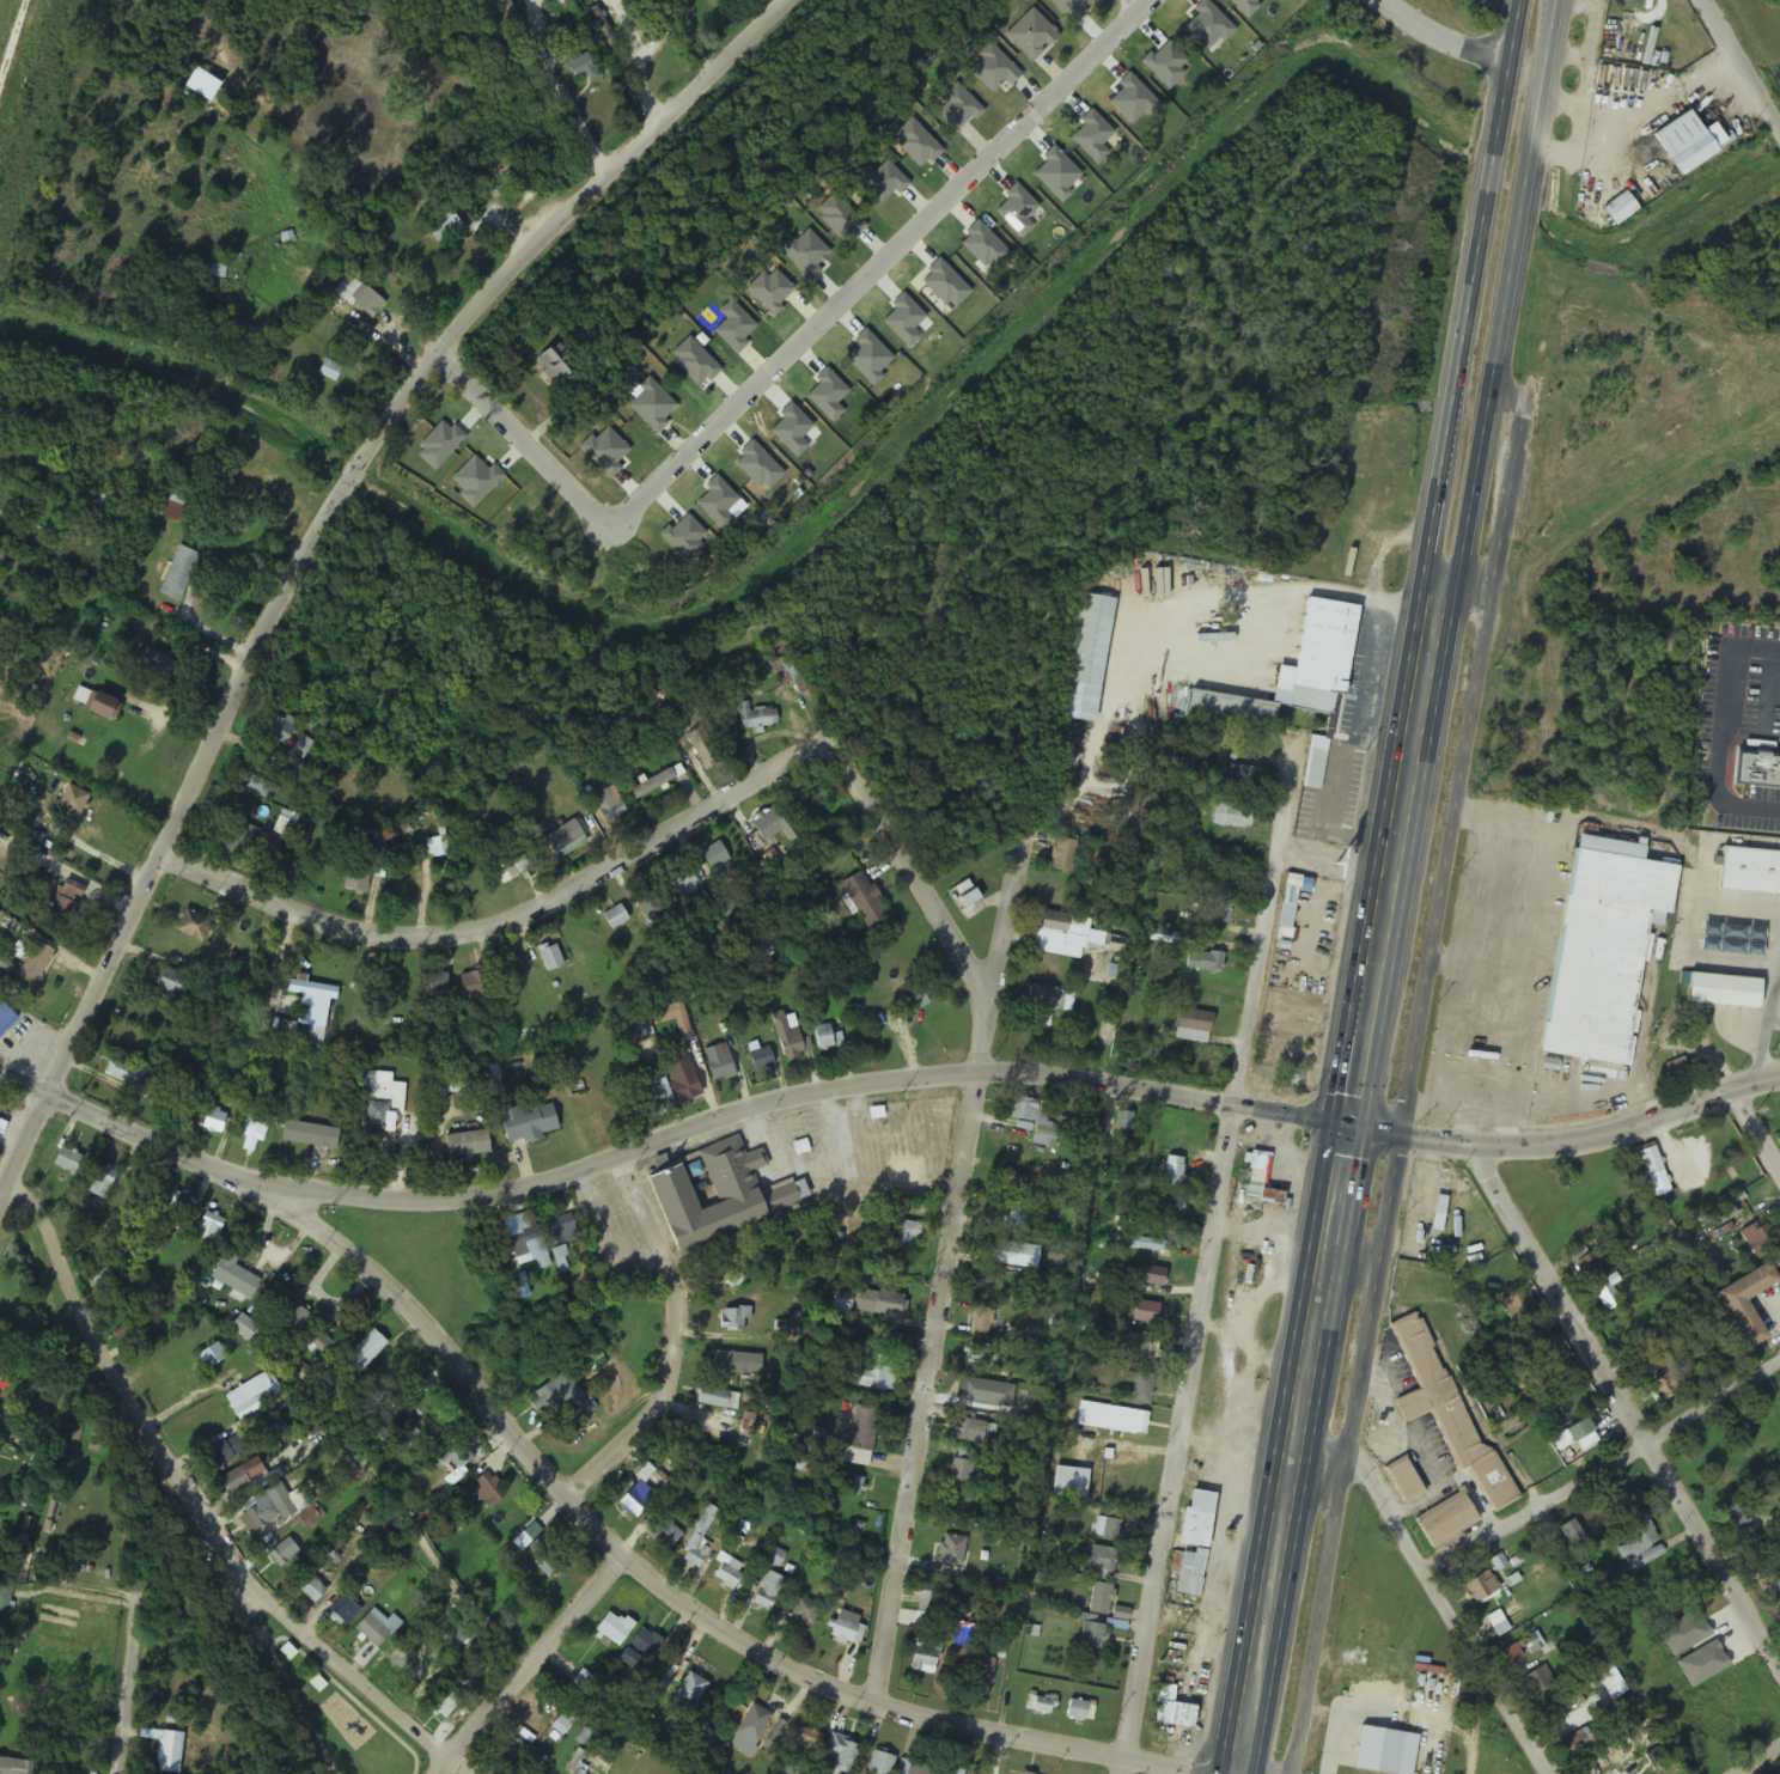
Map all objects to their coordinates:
building: (507, 11)
building: (601, 26)
railway: (11, 33)
road: (1469, 44)
road: (1742, 63)
building: (581, 67)
building: (1687, 144)
building: (517, 184)
building: (1617, 211)
building: (440, 226)
power tower: (1400, 250)
building: (365, 303)
road: (1469, 310)
road: (1506, 313)
road: (801, 355)
building: (555, 361)
building: (329, 371)
building: (1610, 440)
building: (102, 504)
building: (175, 504)
road: (312, 531)
building: (181, 573)
road: (1463, 585)
building: (1086, 659)
building: (160, 664)
building: (1297, 671)
building: (109, 706)
building: (755, 717)
power tower: (1317, 729)
building: (285, 733)
building: (701, 749)
building: (1313, 768)
building: (1174, 772)
building: (1242, 778)
building: (1764, 778)
building: (652, 785)
building: (74, 801)
building: (608, 807)
building: (1230, 817)
building: (285, 823)
building: (772, 825)
building: (232, 836)
building: (561, 839)
building: (1061, 856)
building: (713, 858)
road: (907, 865)
building: (501, 870)
building: (1749, 873)
building: (359, 877)
building: (678, 883)
building: (862, 901)
building: (67, 903)
building: (721, 907)
building: (1214, 913)
building: (1285, 915)
building: (614, 919)
road: (508, 921)
building: (194, 926)
building: (1071, 935)
building: (1602, 956)
building: (549, 959)
building: (36, 963)
building: (1203, 963)
building: (170, 983)
building: (477, 986)
building: (310, 989)
building: (922, 994)
building: (227, 1001)
building: (1047, 1004)
building: (6, 1018)
building: (670, 1018)
building: (1191, 1028)
building: (787, 1037)
building: (821, 1038)
building: (758, 1060)
building: (719, 1068)
building: (126, 1072)
building: (681, 1081)
road: (1409, 1083)
building: (446, 1084)
road: (804, 1089)
building: (651, 1097)
building: (384, 1102)
building: (214, 1121)
building: (531, 1122)
building: (1035, 1122)
building: (1122, 1122)
road: (136, 1129)
building: (255, 1129)
traffic signals: (1346, 1130)
road: (1756, 1130)
building: (311, 1134)
building: (420, 1144)
building: (469, 1145)
road: (1567, 1145)
building: (69, 1160)
building: (1653, 1172)
power tower: (1240, 1177)
building: (1258, 1182)
building: (1011, 1183)
building: (102, 1184)
building: (719, 1196)
road: (1334, 1199)
building: (182, 1205)
building: (1165, 1207)
building: (1438, 1215)
building: (1014, 1220)
building: (209, 1226)
building: (562, 1232)
building: (906, 1239)
building: (528, 1242)
building: (1150, 1246)
building: (1008, 1255)
road: (1353, 1257)
building: (1591, 1263)
road: (943, 1270)
building: (720, 1273)
building: (98, 1274)
building: (236, 1276)
building: (1607, 1293)
road: (1196, 1301)
building: (1745, 1305)
building: (886, 1306)
building: (1513, 1309)
building: (295, 1321)
building: (732, 1321)
building: (981, 1324)
building: (245, 1328)
building: (317, 1342)
road: (673, 1342)
building: (1144, 1348)
building: (214, 1357)
building: (976, 1359)
building: (734, 1365)
building: (868, 1378)
building: (1663, 1380)
building: (1139, 1390)
building: (254, 1396)
building: (557, 1396)
building: (711, 1400)
building: (1023, 1402)
road: (1623, 1408)
building: (7, 1415)
building: (1111, 1420)
building: (384, 1428)
building: (438, 1429)
building: (969, 1432)
building: (1574, 1437)
building: (858, 1439)
building: (1455, 1443)
building: (225, 1451)
building: (457, 1457)
building: (961, 1467)
road: (1602, 1468)
building: (244, 1477)
building: (1403, 1482)
building: (846, 1485)
building: (488, 1490)
road: (185, 1493)
building: (636, 1499)
building: (1620, 1502)
building: (260, 1511)
building: (1737, 1514)
building: (1195, 1519)
building: (1108, 1529)
building: (1569, 1531)
building: (666, 1534)
building: (1635, 1541)
building: (697, 1544)
building: (951, 1552)
building: (284, 1553)
building: (773, 1556)
building: (550, 1560)
building: (1101, 1560)
building: (729, 1573)
building: (1189, 1573)
building: (1773, 1580)
building: (1481, 1586)
building: (312, 1590)
road: (1433, 1590)
building: (768, 1591)
road: (671, 1597)
building: (1099, 1599)
building: (927, 1605)
building: (343, 1610)
building: (804, 1611)
building: (378, 1629)
building: (612, 1629)
building: (846, 1630)
building: (1091, 1634)
building: (639, 1648)
building: (922, 1657)
road: (530, 1660)
power tower: (1158, 1664)
building: (983, 1671)
building: (1538, 1678)
building: (662, 1679)
road: (127, 1690)
building: (687, 1694)
building: (1037, 1705)
building: (446, 1707)
building: (1170, 1709)
building: (1074, 1711)
building: (1614, 1721)
building: (751, 1727)
building: (1575, 1743)
building: (806, 1744)
building: (513, 1751)
building: (169, 1752)
building: (840, 1755)
road: (1756, 1760)
building: (879, 1763)
building: (5, 1766)
road: (437, 1767)
road: (452, 1767)
building: (910, 1768)
building: (946, 1770)
building: (579, 1773)

